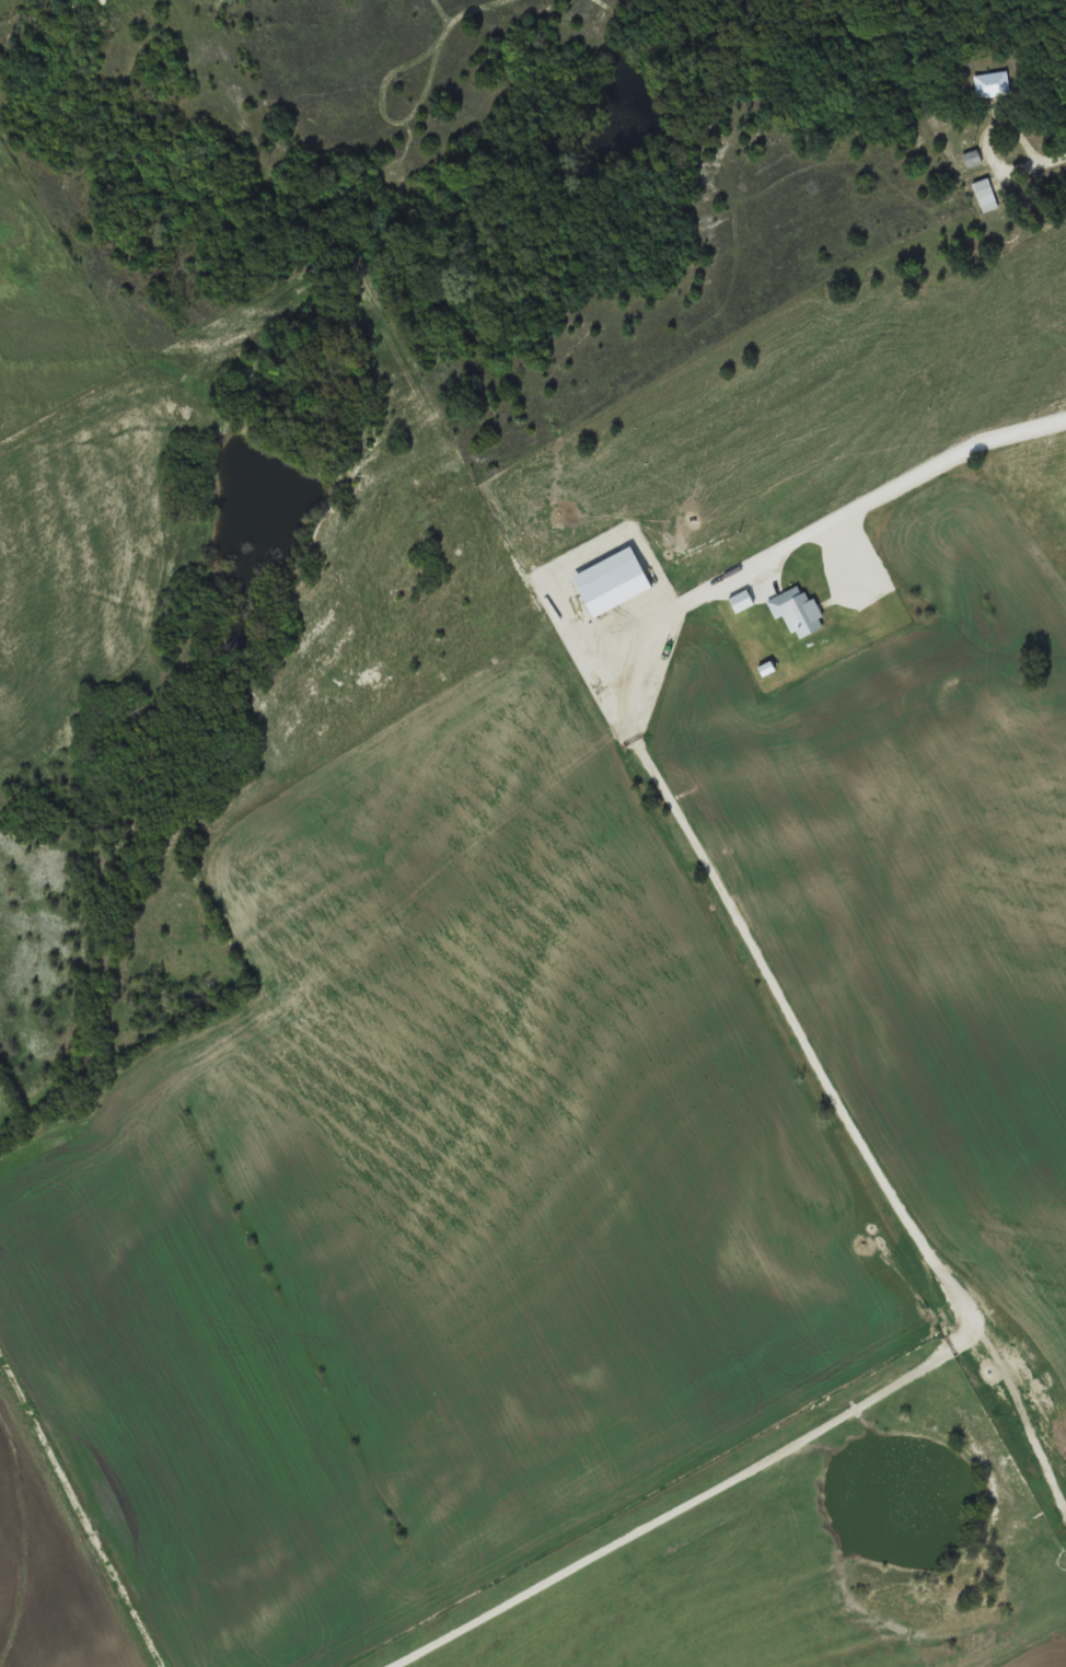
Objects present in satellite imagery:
building: (990, 83)
building: (973, 157)
building: (985, 194)
road: (871, 512)

